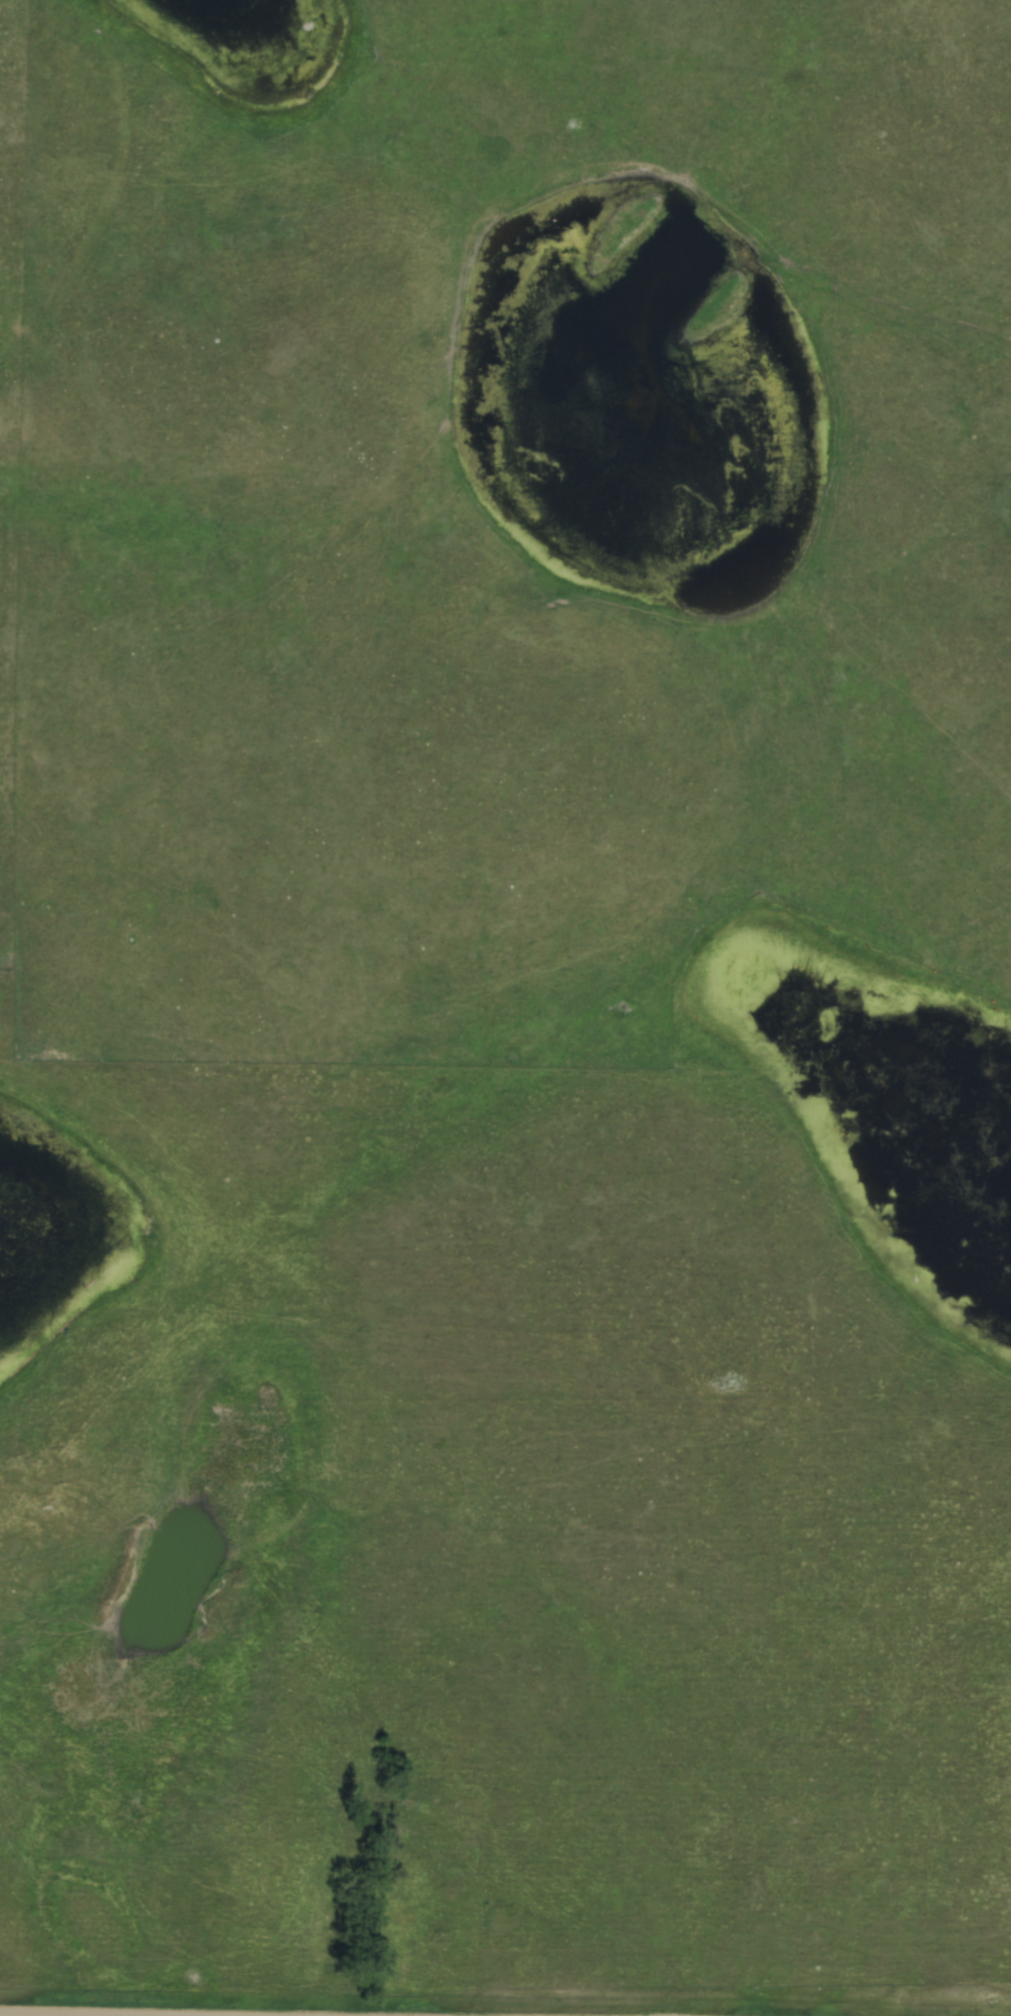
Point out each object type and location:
road: (130, 2013)

